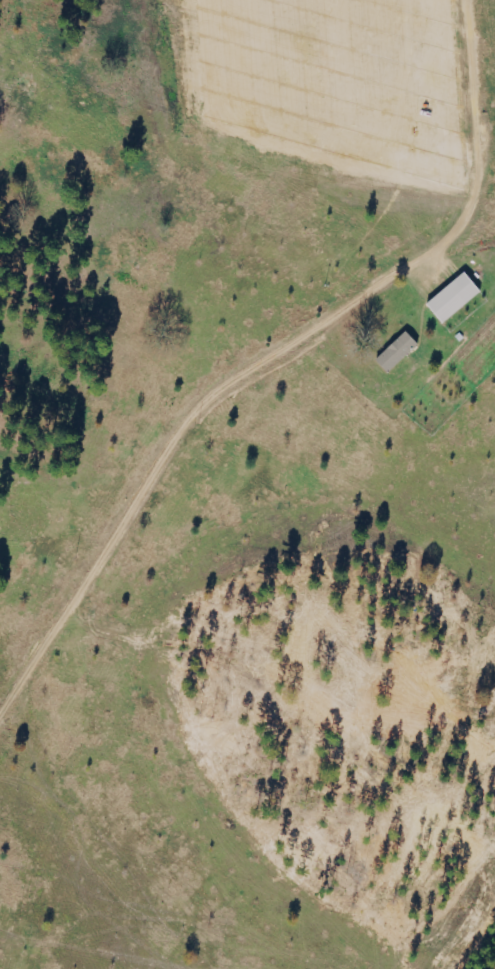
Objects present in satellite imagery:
building: (458, 298)
building: (401, 352)
road: (205, 474)

